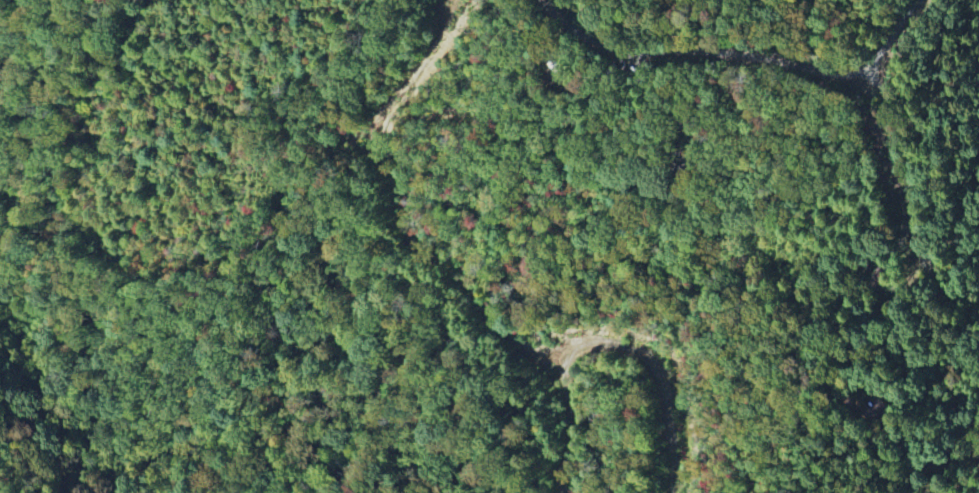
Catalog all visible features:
road: (738, 54)
road: (898, 163)
road: (585, 344)

